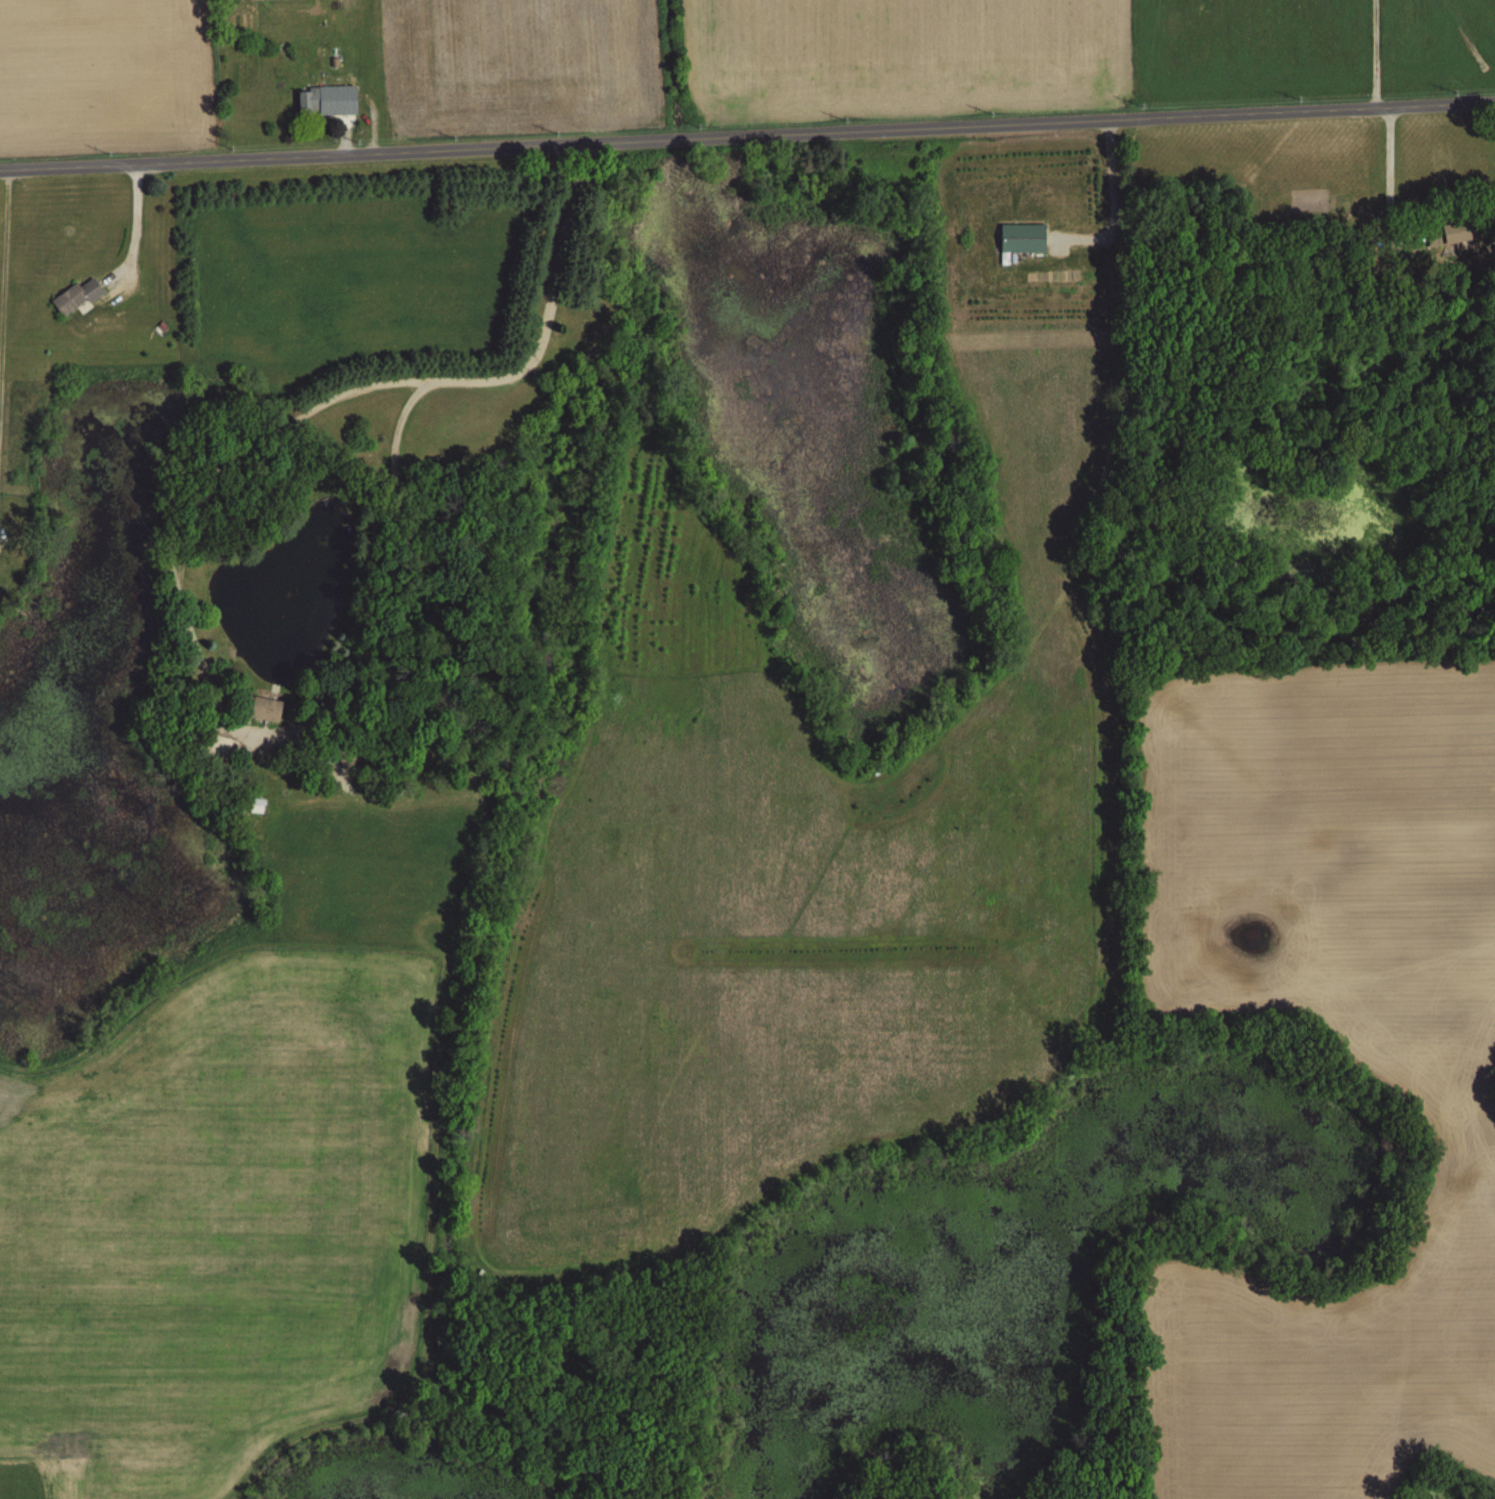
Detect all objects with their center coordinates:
building: (313, 98)
road: (747, 139)
building: (1449, 233)
building: (76, 296)
building: (265, 709)
building: (258, 805)

